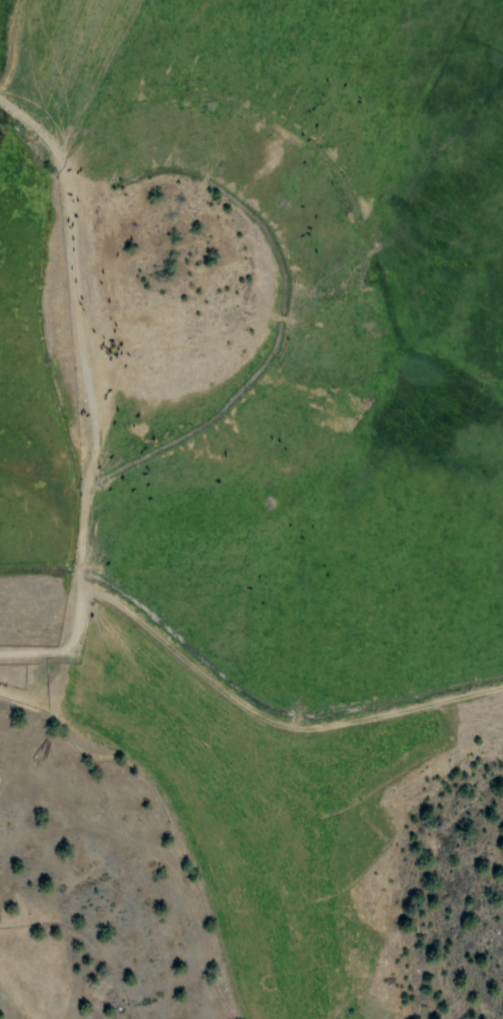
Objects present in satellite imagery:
road: (90, 626)

